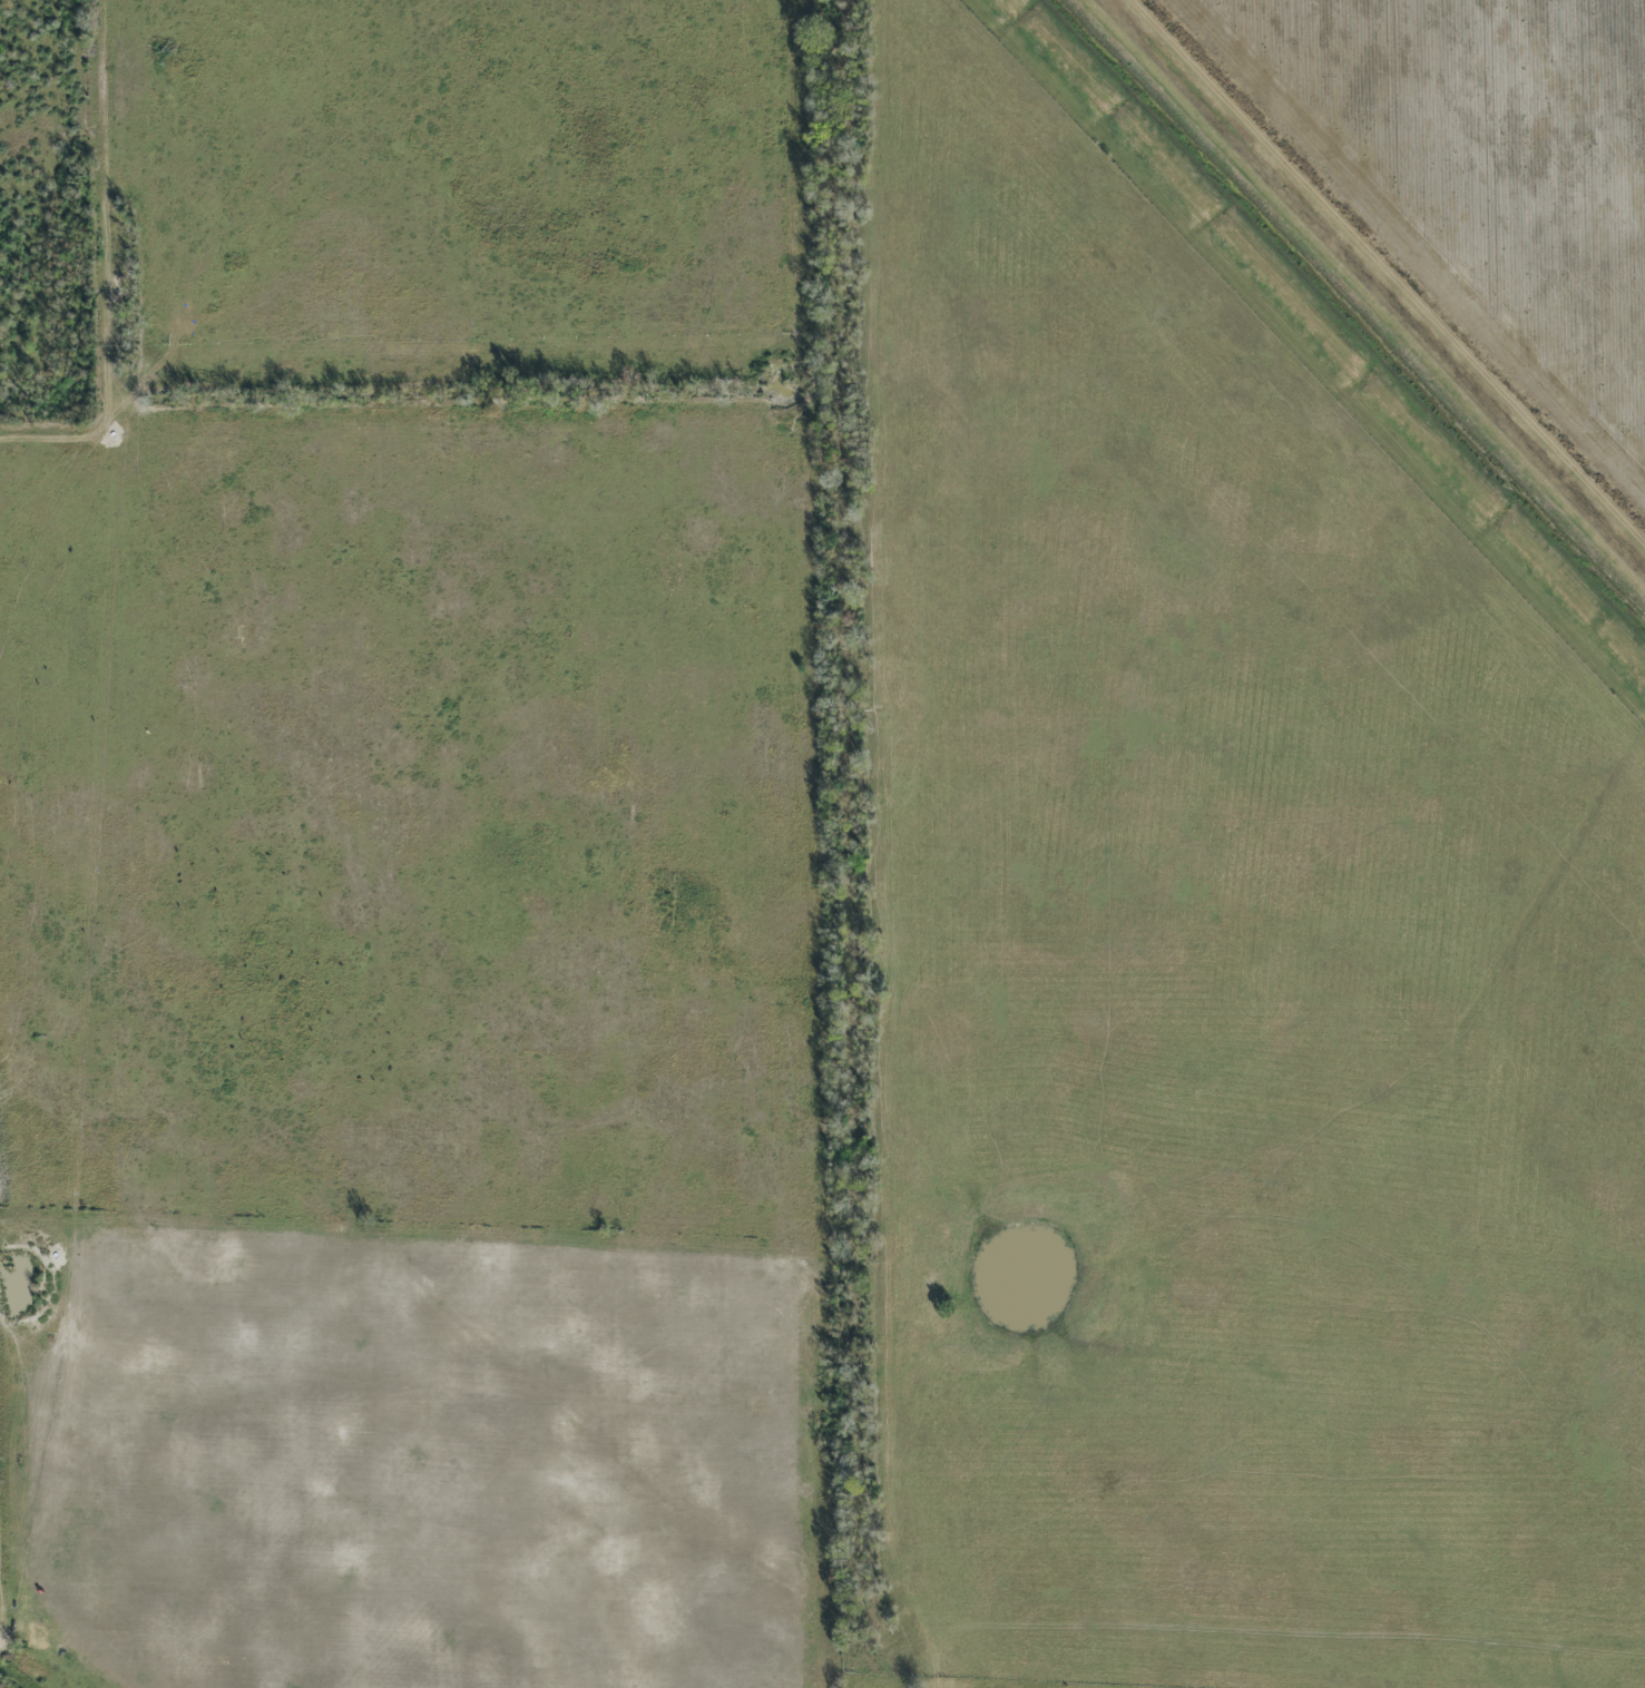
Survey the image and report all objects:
road: (1392, 268)
road: (115, 277)
road: (2, 1577)

